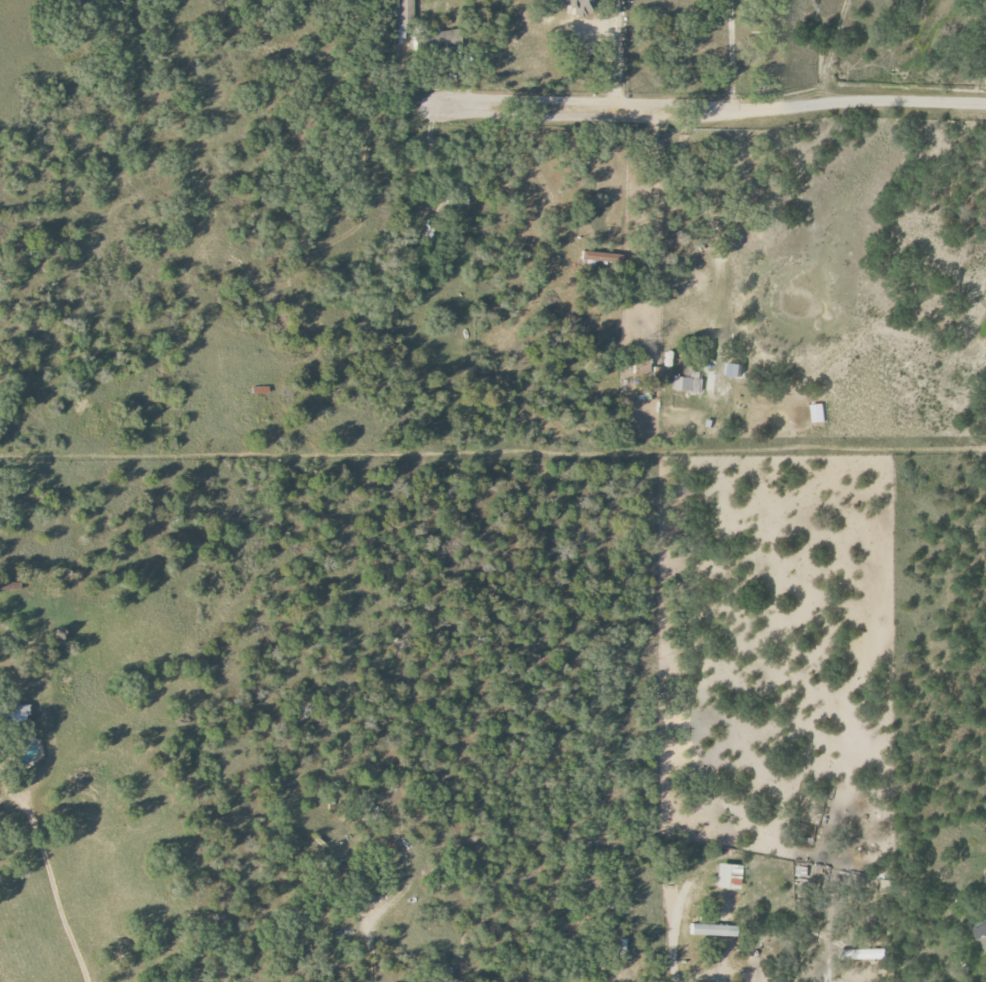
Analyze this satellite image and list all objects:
building: (578, 6)
building: (402, 18)
building: (443, 40)
road: (617, 46)
road: (728, 54)
road: (704, 109)
road: (655, 219)
building: (595, 256)
building: (687, 383)
building: (819, 413)
building: (728, 876)
road: (47, 886)
building: (713, 930)
building: (983, 933)
road: (722, 967)

